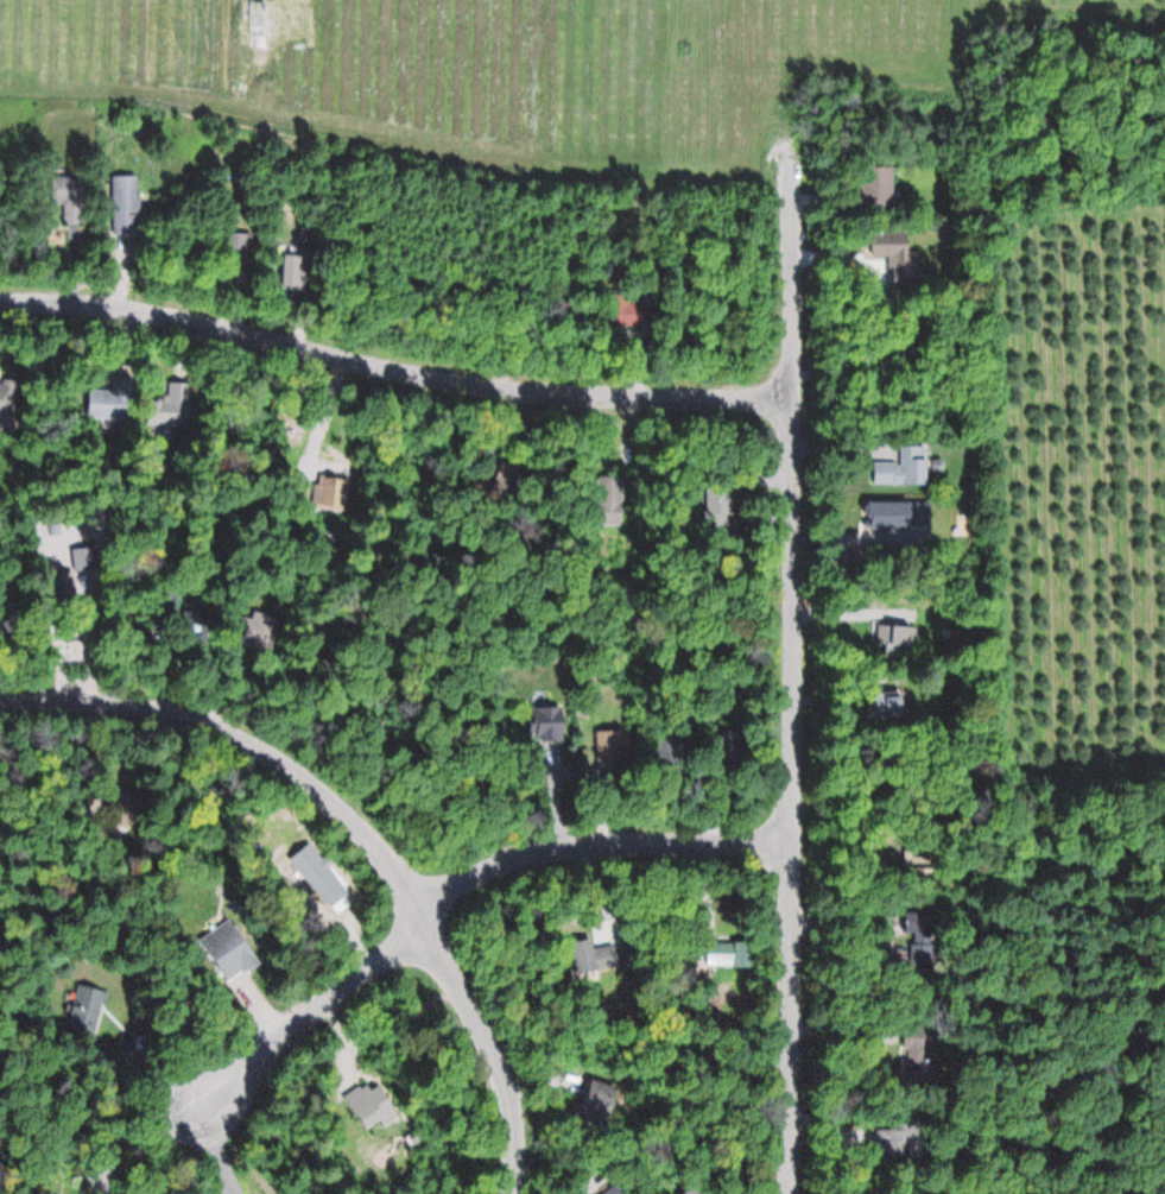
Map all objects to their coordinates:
building: (875, 184)
building: (70, 196)
building: (126, 203)
road: (393, 368)
building: (113, 399)
building: (903, 466)
building: (507, 479)
building: (609, 489)
building: (720, 499)
building: (903, 513)
building: (13, 625)
road: (791, 672)
building: (547, 720)
road: (360, 829)
road: (594, 840)
building: (230, 948)
building: (86, 1009)
road: (308, 1015)
building: (916, 1056)
building: (603, 1093)

